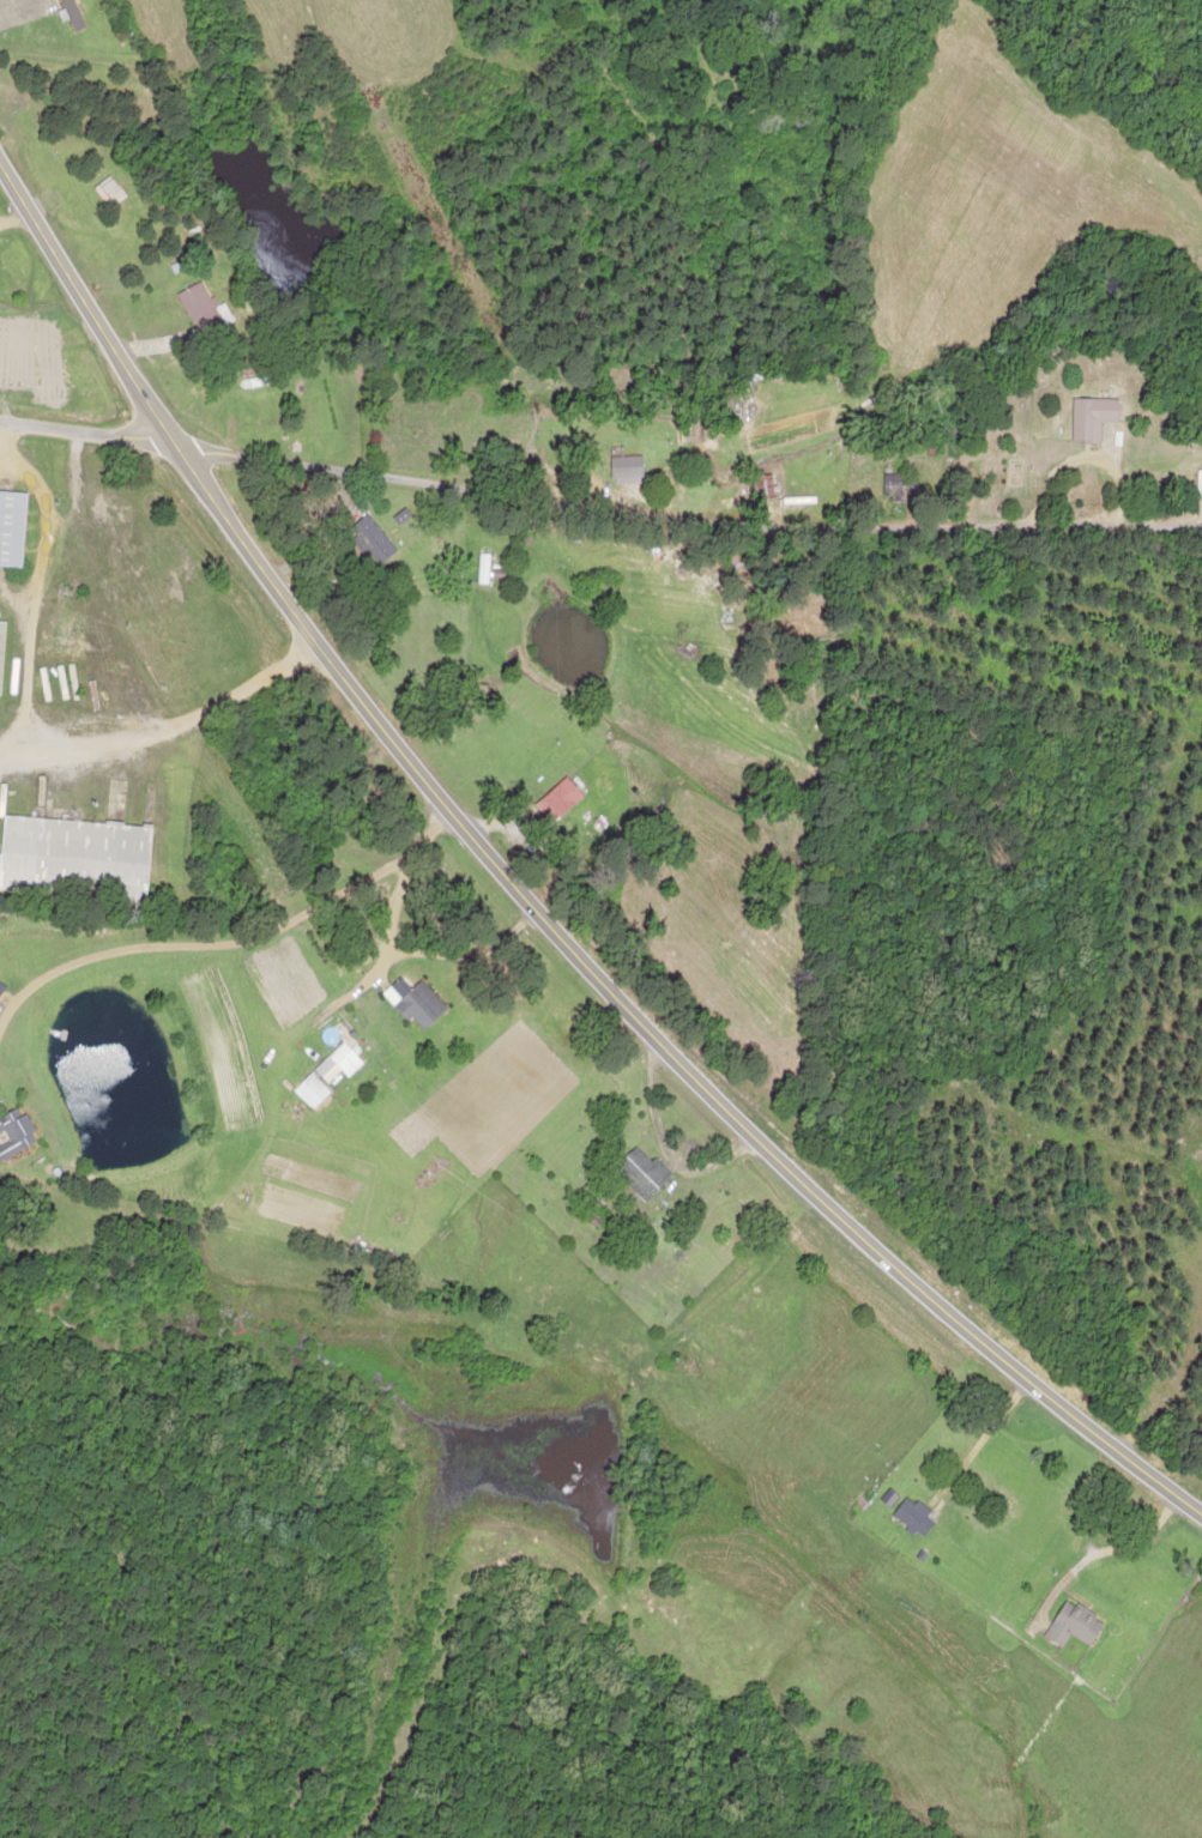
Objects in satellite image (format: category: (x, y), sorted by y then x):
building: (67, 14)
building: (200, 308)
building: (260, 411)
building: (1088, 417)
building: (622, 468)
building: (1197, 482)
building: (898, 486)
road: (598, 492)
building: (10, 527)
building: (369, 539)
building: (0, 625)
building: (556, 799)
building: (72, 855)
road: (532, 894)
building: (417, 1005)
building: (336, 1063)
building: (313, 1086)
building: (14, 1131)
building: (639, 1172)
building: (1070, 1624)

